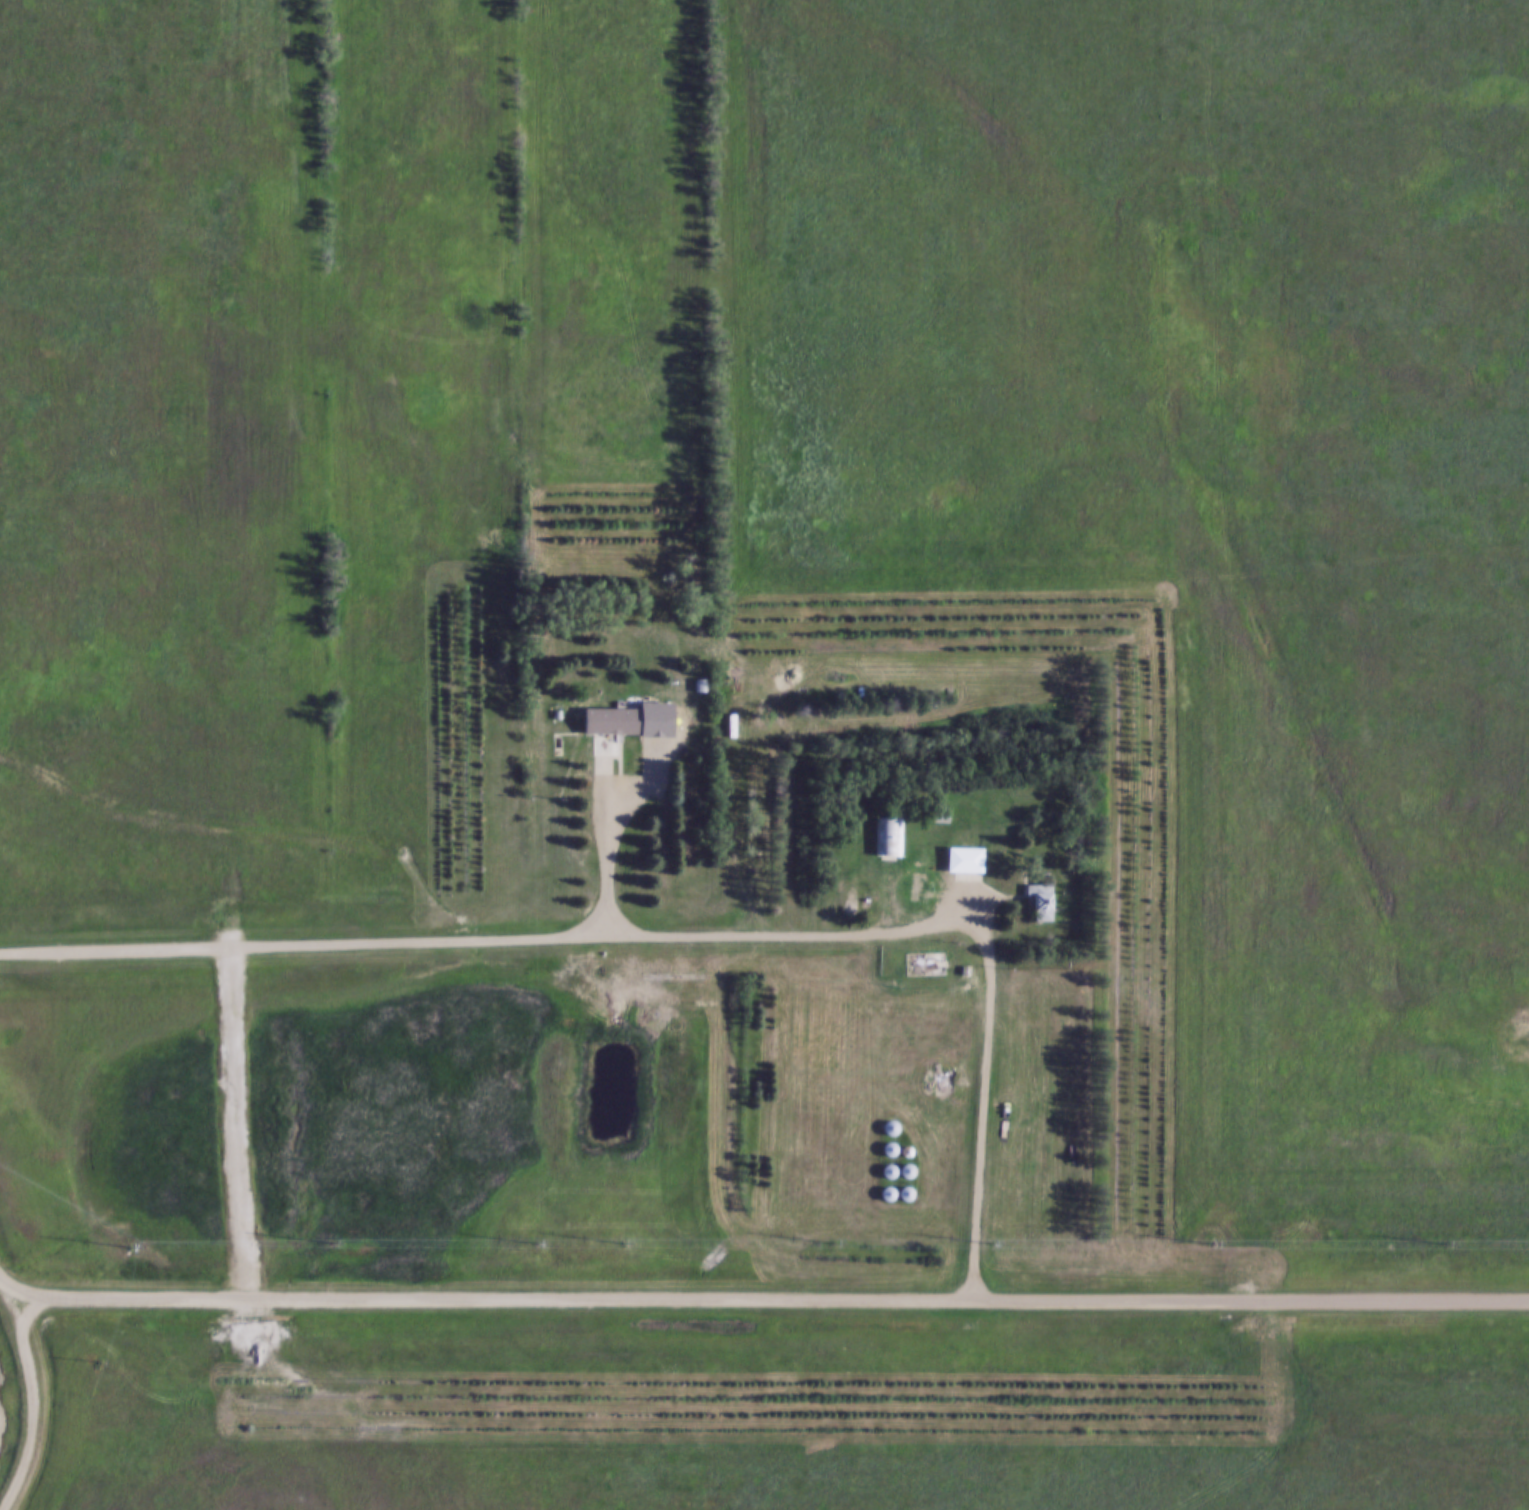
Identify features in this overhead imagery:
road: (735, 468)
building: (610, 722)
building: (597, 752)
building: (942, 819)
building: (891, 839)
road: (608, 844)
building: (963, 861)
building: (919, 890)
building: (1040, 905)
road: (676, 938)
building: (924, 966)
building: (941, 1083)
road: (241, 1123)
road: (6, 1288)
road: (770, 1298)
road: (34, 1405)

